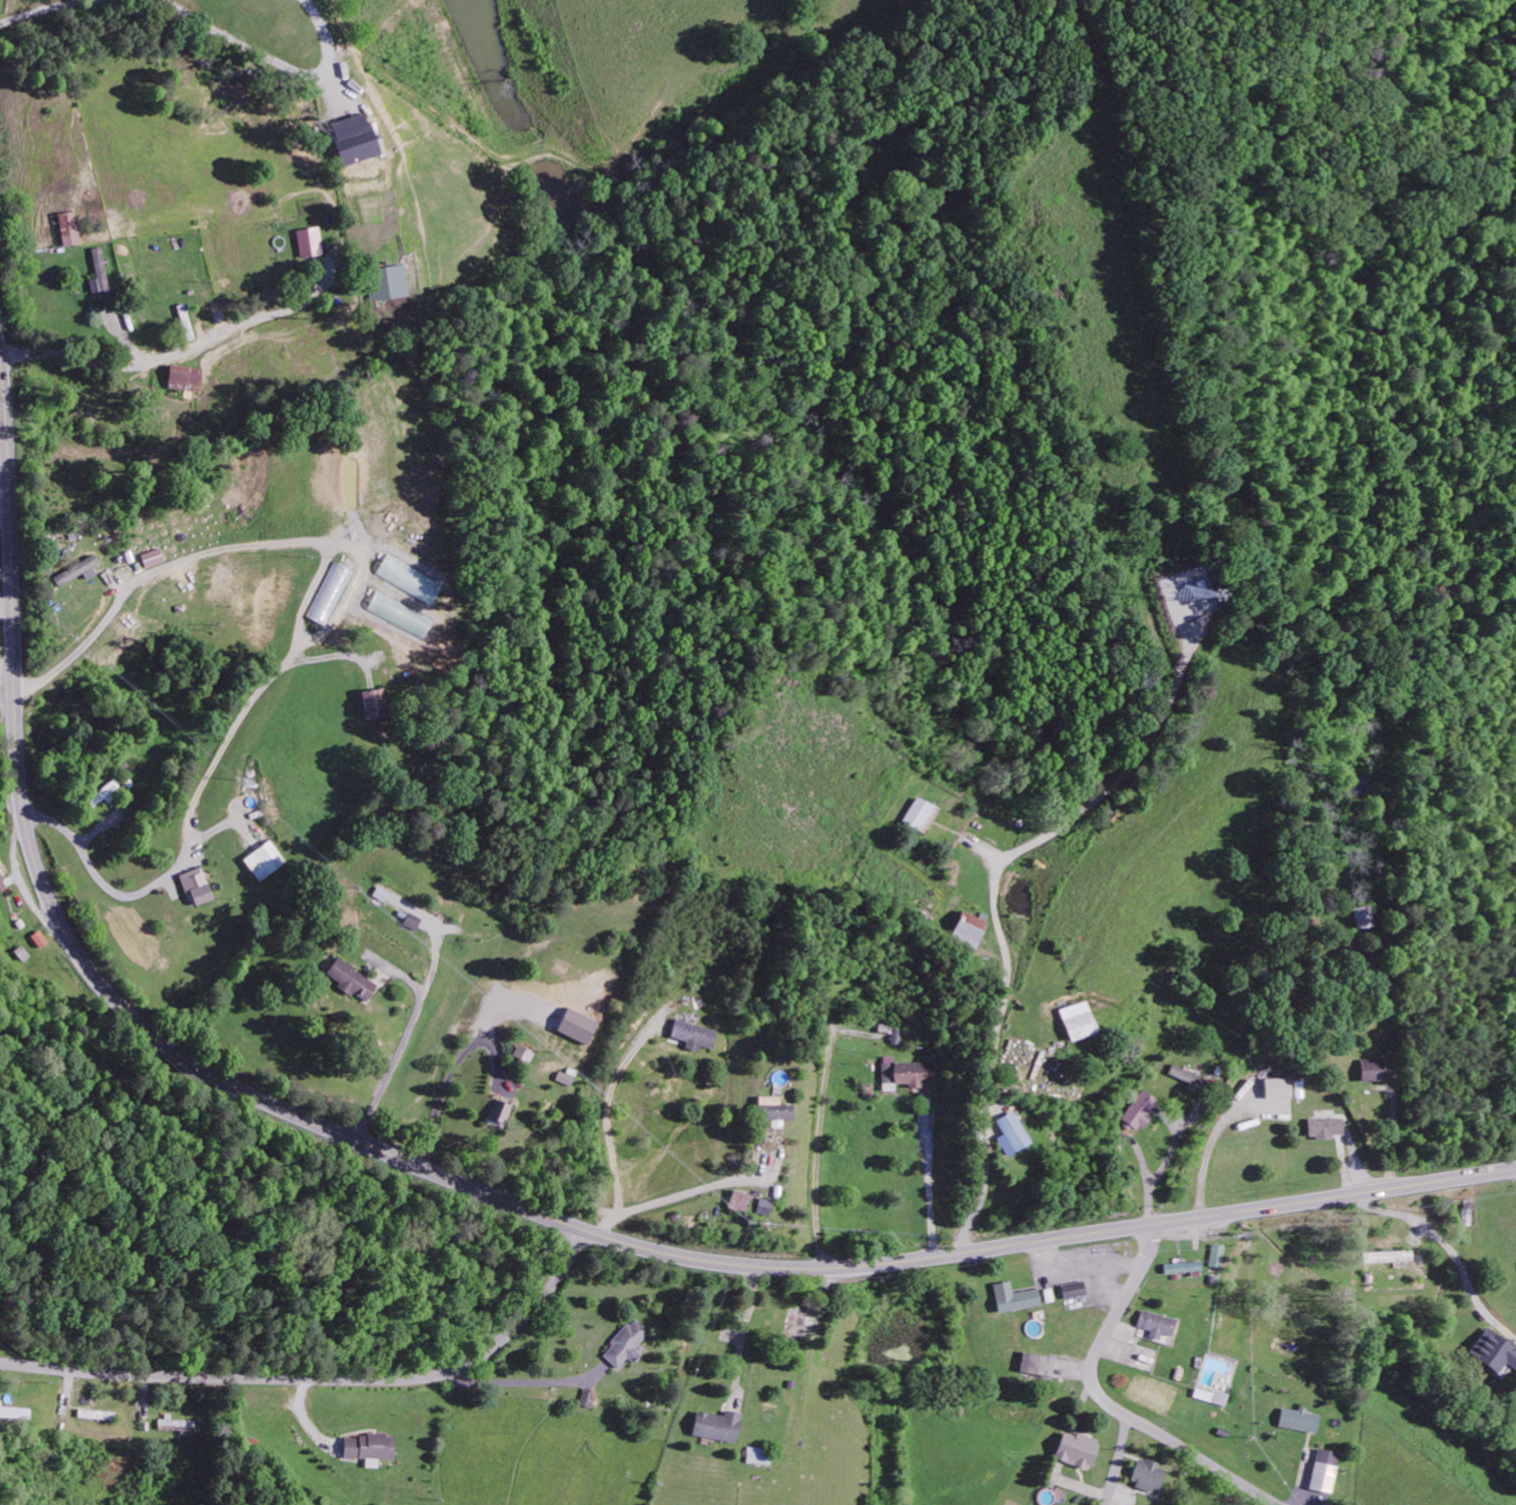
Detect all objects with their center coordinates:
building: (353, 139)
building: (68, 229)
building: (309, 242)
building: (98, 271)
building: (386, 283)
building: (181, 378)
building: (150, 557)
building: (74, 571)
building: (407, 578)
building: (329, 593)
building: (398, 614)
road: (298, 633)
building: (374, 703)
building: (103, 793)
building: (918, 813)
building: (264, 860)
building: (1, 885)
building: (195, 886)
building: (381, 893)
building: (1361, 916)
building: (969, 929)
building: (38, 938)
road: (76, 948)
building: (350, 980)
building: (1077, 1020)
building: (575, 1026)
building: (692, 1034)
building: (522, 1053)
building: (908, 1073)
building: (1183, 1074)
building: (561, 1078)
building: (1279, 1087)
building: (1139, 1109)
building: (773, 1110)
building: (502, 1113)
building: (1325, 1127)
building: (1010, 1133)
building: (738, 1200)
building: (762, 1206)
road: (1049, 1240)
building: (1214, 1255)
building: (1387, 1256)
building: (1181, 1267)
building: (1074, 1289)
building: (1014, 1297)
building: (1155, 1324)
building: (797, 1326)
building: (624, 1344)
building: (1493, 1351)
building: (1037, 1364)
road: (324, 1379)
building: (1210, 1395)
road: (1108, 1403)
building: (14, 1412)
building: (1298, 1420)
building: (175, 1424)
building: (718, 1425)
building: (368, 1448)
building: (1077, 1449)
building: (757, 1455)
road: (1117, 1461)
building: (1324, 1470)
building: (1147, 1475)

